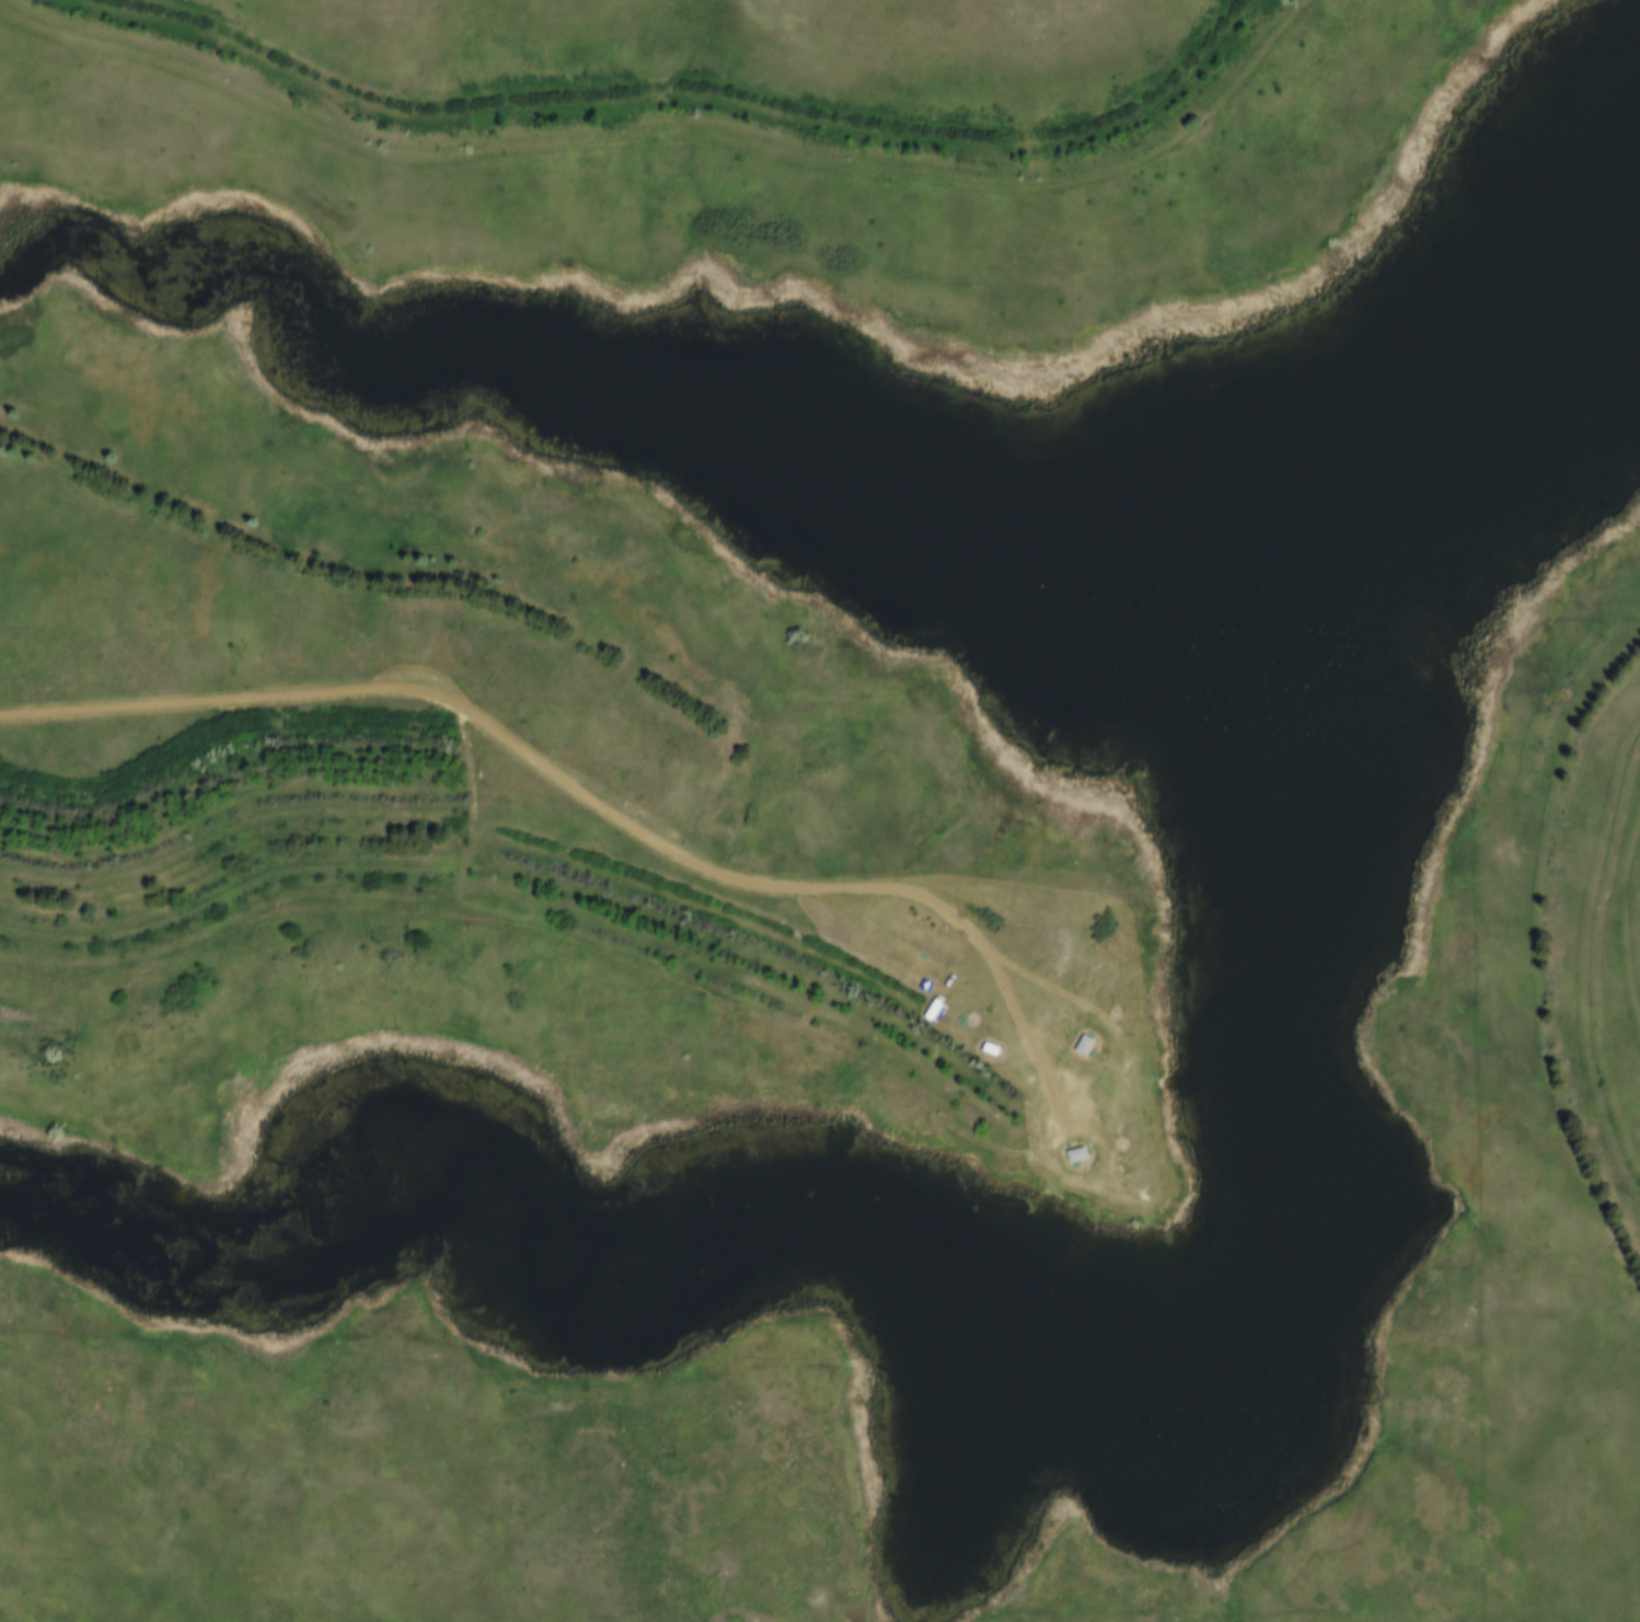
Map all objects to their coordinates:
road: (413, 511)
road: (587, 800)
road: (319, 908)
road: (771, 1022)
building: (1088, 1044)
building: (1082, 1153)

